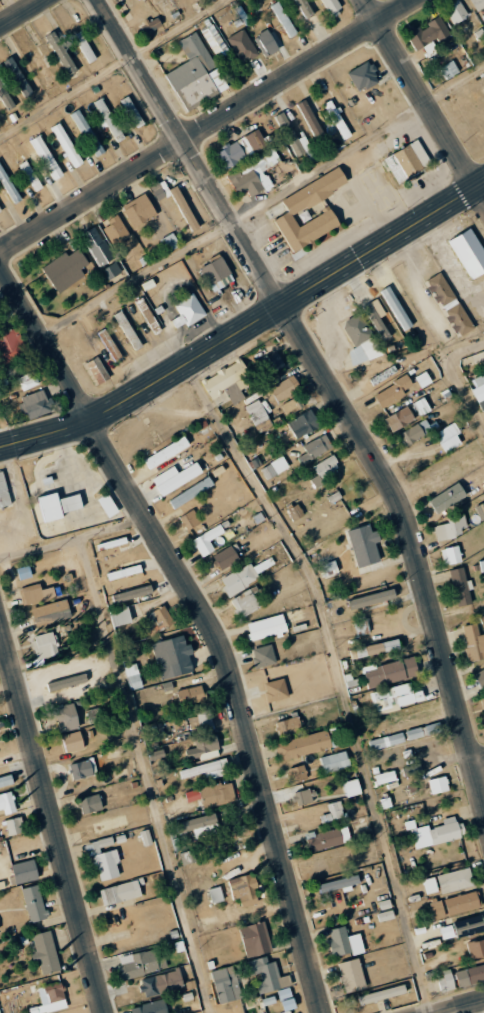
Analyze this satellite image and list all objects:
building: (478, 4)
building: (332, 7)
building: (303, 8)
road: (18, 11)
building: (456, 11)
building: (283, 18)
building: (151, 24)
building: (430, 35)
building: (213, 37)
building: (266, 42)
building: (242, 45)
building: (84, 46)
building: (61, 52)
building: (34, 63)
road: (110, 67)
building: (449, 70)
building: (195, 72)
building: (18, 76)
building: (363, 76)
building: (4, 91)
road: (423, 100)
building: (132, 111)
building: (335, 114)
building: (109, 119)
road: (208, 126)
building: (87, 132)
building: (292, 136)
building: (66, 144)
building: (240, 148)
building: (46, 157)
building: (407, 161)
building: (253, 174)
building: (30, 175)
building: (8, 186)
building: (167, 192)
building: (139, 209)
building: (292, 210)
building: (0, 211)
building: (192, 223)
building: (116, 230)
building: (169, 242)
building: (97, 246)
building: (469, 252)
building: (64, 266)
building: (111, 270)
building: (216, 273)
building: (449, 304)
building: (396, 308)
building: (188, 311)
building: (148, 315)
building: (377, 318)
road: (247, 327)
building: (128, 330)
building: (360, 341)
building: (110, 345)
building: (11, 346)
building: (273, 363)
building: (97, 370)
building: (423, 379)
building: (28, 380)
road: (327, 381)
building: (227, 383)
building: (478, 386)
building: (285, 388)
building: (392, 391)
building: (35, 403)
building: (292, 405)
building: (421, 406)
building: (258, 410)
building: (399, 418)
building: (303, 424)
building: (414, 432)
building: (448, 437)
building: (315, 448)
building: (166, 452)
building: (275, 467)
building: (324, 469)
building: (176, 477)
building: (4, 492)
building: (191, 492)
building: (447, 497)
building: (58, 505)
building: (107, 505)
building: (480, 510)
building: (295, 511)
building: (190, 519)
building: (450, 527)
road: (72, 536)
building: (207, 540)
building: (364, 545)
building: (451, 555)
building: (225, 557)
building: (482, 565)
building: (124, 572)
building: (239, 579)
building: (460, 587)
building: (35, 593)
building: (133, 593)
building: (374, 596)
building: (245, 604)
building: (51, 612)
building: (124, 614)
building: (159, 618)
road: (206, 620)
building: (361, 627)
building: (267, 631)
building: (473, 642)
building: (44, 643)
building: (376, 648)
building: (263, 656)
building: (172, 657)
building: (390, 671)
building: (133, 676)
road: (336, 676)
building: (480, 677)
building: (67, 682)
building: (276, 690)
building: (191, 695)
building: (395, 697)
building: (482, 698)
building: (66, 717)
building: (204, 719)
building: (176, 723)
building: (288, 726)
building: (424, 730)
building: (386, 741)
building: (73, 742)
building: (303, 745)
building: (203, 748)
building: (156, 754)
building: (334, 761)
building: (83, 769)
building: (207, 769)
building: (411, 769)
road: (480, 769)
road: (146, 773)
building: (297, 773)
building: (385, 777)
building: (5, 780)
building: (438, 785)
building: (352, 788)
building: (212, 794)
building: (303, 797)
building: (7, 803)
building: (90, 804)
building: (333, 812)
road: (52, 820)
building: (14, 826)
building: (199, 826)
building: (436, 832)
building: (146, 837)
building: (327, 839)
building: (97, 845)
building: (187, 857)
building: (107, 864)
building: (24, 871)
building: (454, 880)
building: (338, 884)
building: (429, 885)
building: (243, 890)
building: (121, 892)
building: (215, 894)
building: (462, 902)
building: (33, 903)
building: (384, 904)
building: (437, 909)
building: (385, 915)
building: (117, 926)
building: (468, 926)
building: (447, 932)
building: (255, 939)
building: (344, 942)
building: (476, 949)
building: (45, 953)
building: (140, 964)
building: (265, 974)
building: (351, 975)
building: (470, 975)
building: (446, 980)
building: (161, 983)
building: (226, 985)
building: (382, 994)
building: (50, 999)
building: (286, 999)
building: (149, 1008)
road: (465, 1008)

